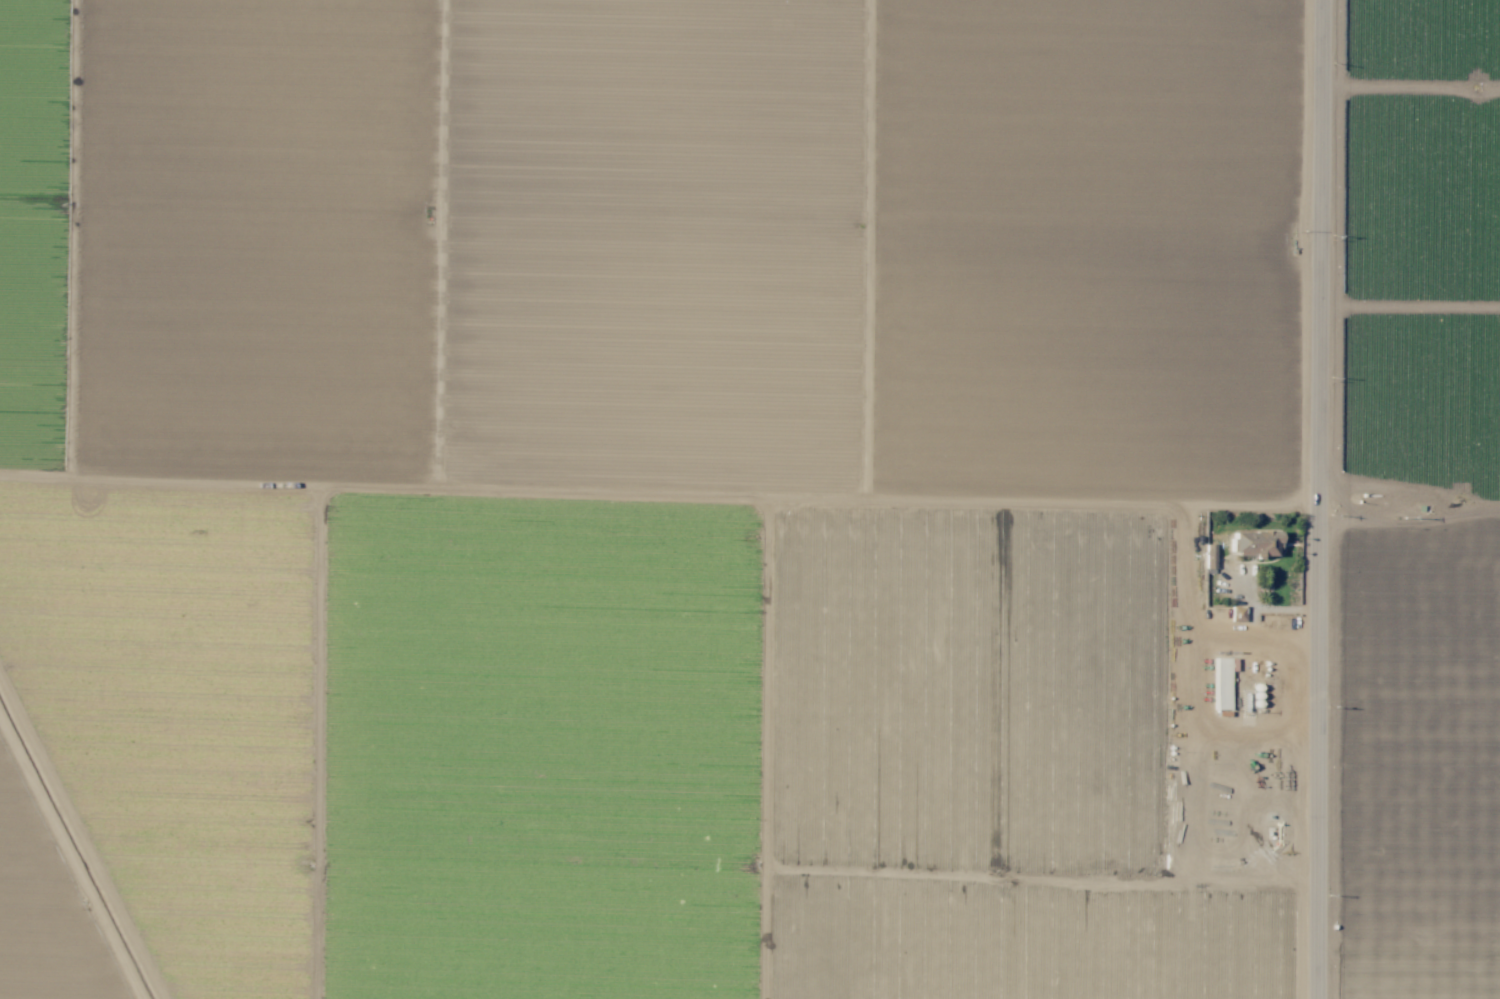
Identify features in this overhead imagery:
crop: (750, 499)
road: (1321, 499)
building: (1254, 543)
building: (1220, 683)

